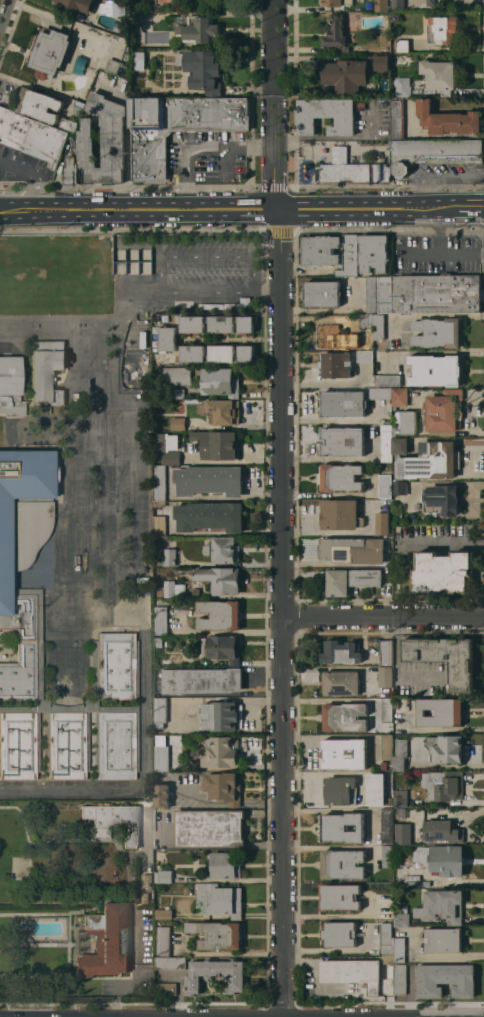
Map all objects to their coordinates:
building: (338, 2)
building: (431, 2)
road: (1, 3)
building: (79, 4)
building: (398, 4)
building: (381, 5)
building: (113, 7)
building: (149, 9)
building: (136, 17)
building: (199, 29)
building: (442, 29)
building: (337, 34)
building: (403, 45)
building: (51, 52)
building: (139, 60)
building: (382, 62)
building: (116, 66)
building: (203, 70)
building: (346, 75)
building: (439, 75)
building: (403, 86)
building: (80, 103)
building: (39, 105)
building: (328, 115)
building: (398, 119)
building: (448, 119)
building: (69, 124)
building: (177, 127)
building: (33, 136)
building: (103, 140)
road: (197, 148)
building: (433, 152)
road: (227, 159)
building: (351, 169)
building: (70, 170)
road: (35, 173)
road: (465, 208)
road: (223, 210)
road: (0, 211)
building: (321, 249)
building: (374, 252)
road: (440, 254)
road: (418, 255)
building: (349, 256)
road: (158, 264)
road: (266, 282)
building: (322, 293)
building: (436, 293)
building: (373, 294)
building: (386, 294)
building: (244, 303)
building: (222, 323)
building: (247, 323)
building: (193, 324)
building: (378, 326)
building: (366, 331)
road: (98, 332)
building: (438, 332)
building: (332, 336)
building: (167, 338)
building: (192, 353)
building: (221, 353)
building: (247, 353)
building: (365, 356)
building: (338, 364)
building: (47, 370)
building: (436, 370)
building: (177, 375)
building: (388, 380)
building: (221, 382)
building: (11, 386)
building: (176, 393)
building: (380, 393)
building: (400, 396)
building: (343, 403)
building: (223, 411)
building: (444, 412)
building: (386, 421)
building: (406, 421)
building: (179, 423)
building: (342, 441)
building: (167, 442)
building: (386, 442)
building: (217, 444)
building: (400, 445)
building: (171, 457)
building: (431, 461)
building: (342, 477)
building: (210, 480)
building: (160, 482)
building: (385, 482)
building: (400, 487)
road: (99, 490)
building: (441, 499)
building: (160, 503)
road: (280, 508)
building: (341, 514)
building: (210, 516)
building: (383, 523)
building: (160, 525)
building: (223, 549)
building: (353, 549)
building: (170, 557)
building: (443, 572)
building: (367, 577)
building: (221, 579)
building: (338, 582)
building: (173, 588)
building: (196, 591)
building: (23, 602)
building: (220, 615)
road: (382, 616)
building: (161, 620)
building: (158, 641)
building: (220, 648)
building: (341, 652)
building: (386, 652)
building: (445, 658)
building: (385, 676)
road: (263, 677)
building: (203, 680)
building: (341, 683)
building: (396, 702)
building: (387, 709)
building: (160, 712)
building: (441, 712)
building: (222, 715)
building: (99, 716)
building: (345, 716)
building: (387, 745)
building: (442, 747)
building: (221, 751)
building: (161, 752)
building: (344, 753)
building: (401, 754)
building: (384, 765)
road: (144, 770)
building: (444, 784)
building: (224, 787)
building: (375, 788)
building: (338, 789)
building: (162, 796)
building: (400, 798)
building: (389, 801)
building: (403, 810)
building: (114, 820)
building: (387, 825)
building: (342, 827)
building: (210, 828)
building: (442, 832)
building: (402, 833)
building: (157, 842)
building: (388, 856)
building: (442, 858)
building: (343, 863)
building: (226, 864)
building: (163, 875)
building: (146, 885)
building: (340, 896)
building: (221, 898)
building: (387, 905)
building: (442, 905)
building: (164, 914)
building: (402, 916)
building: (217, 934)
building: (340, 934)
building: (386, 938)
building: (443, 939)
building: (106, 941)
building: (164, 941)
building: (399, 949)
building: (387, 958)
building: (170, 962)
building: (353, 972)
building: (216, 974)
building: (400, 978)
building: (445, 979)
road: (180, 986)
building: (167, 988)
road: (117, 992)

